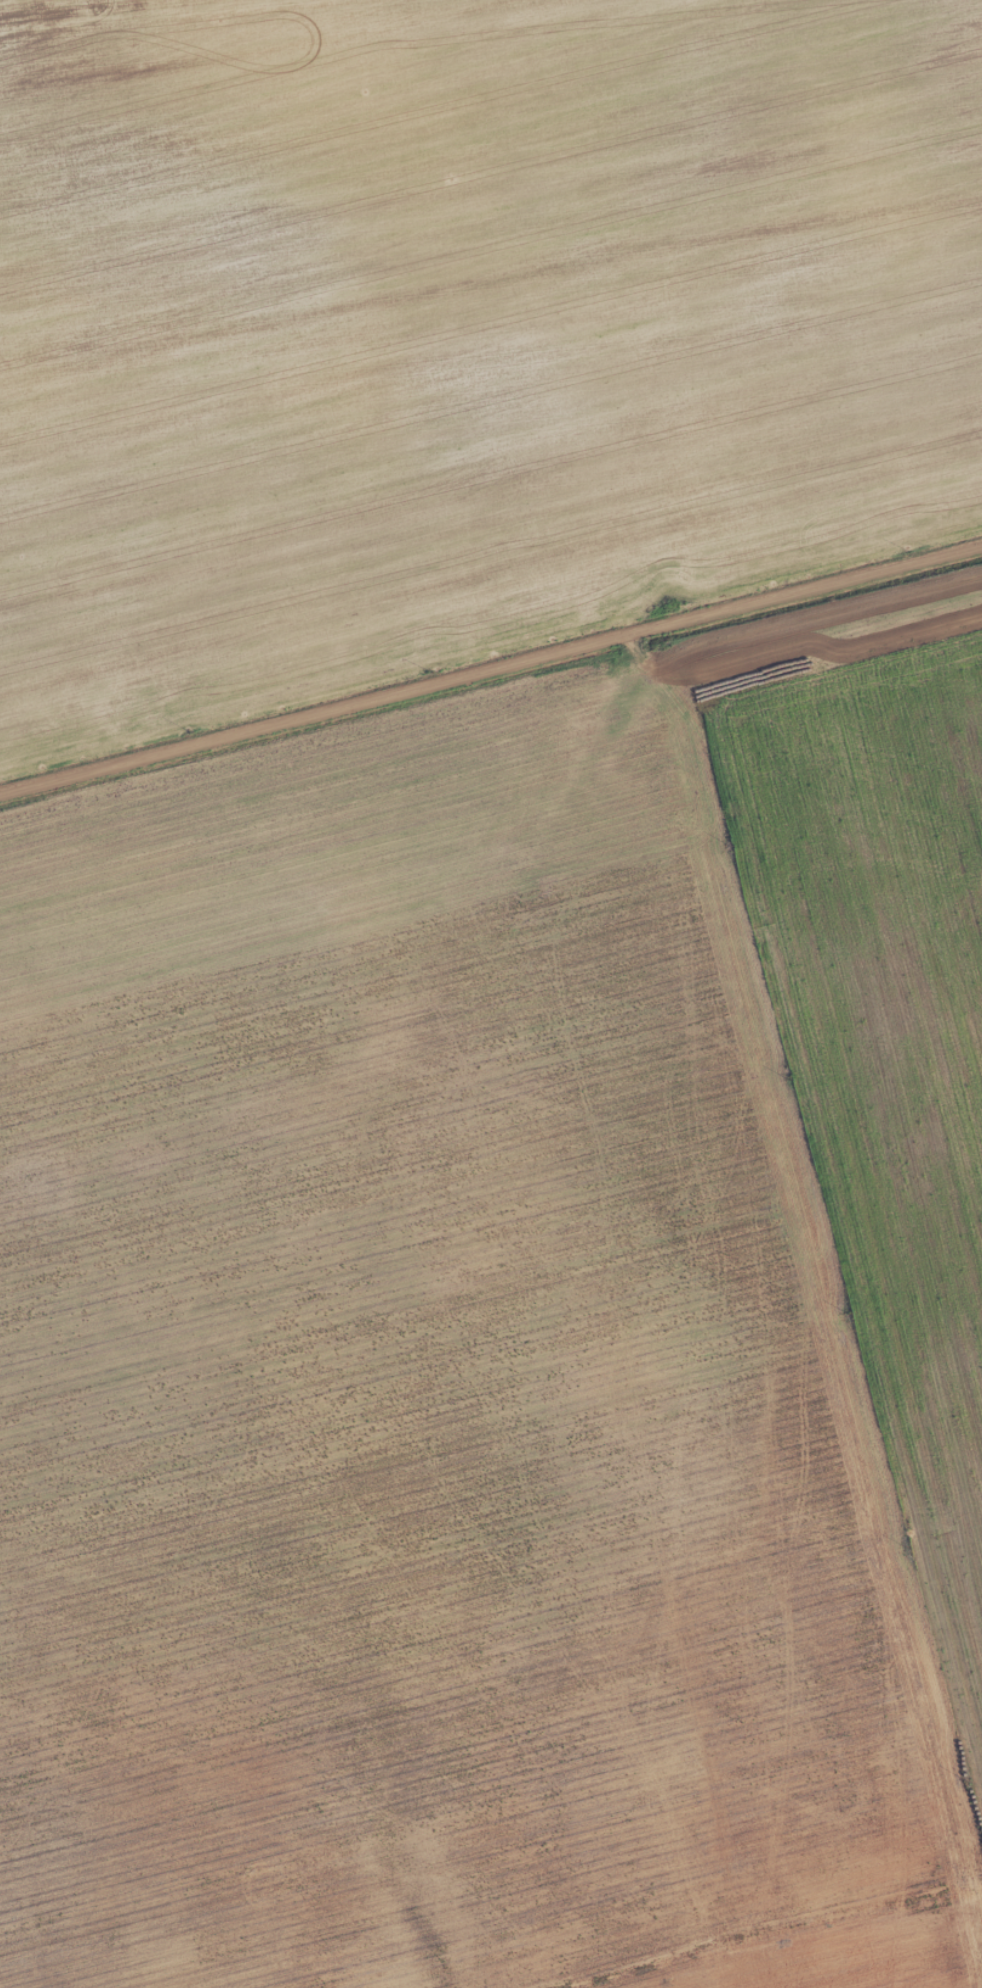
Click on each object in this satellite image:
road: (491, 664)

